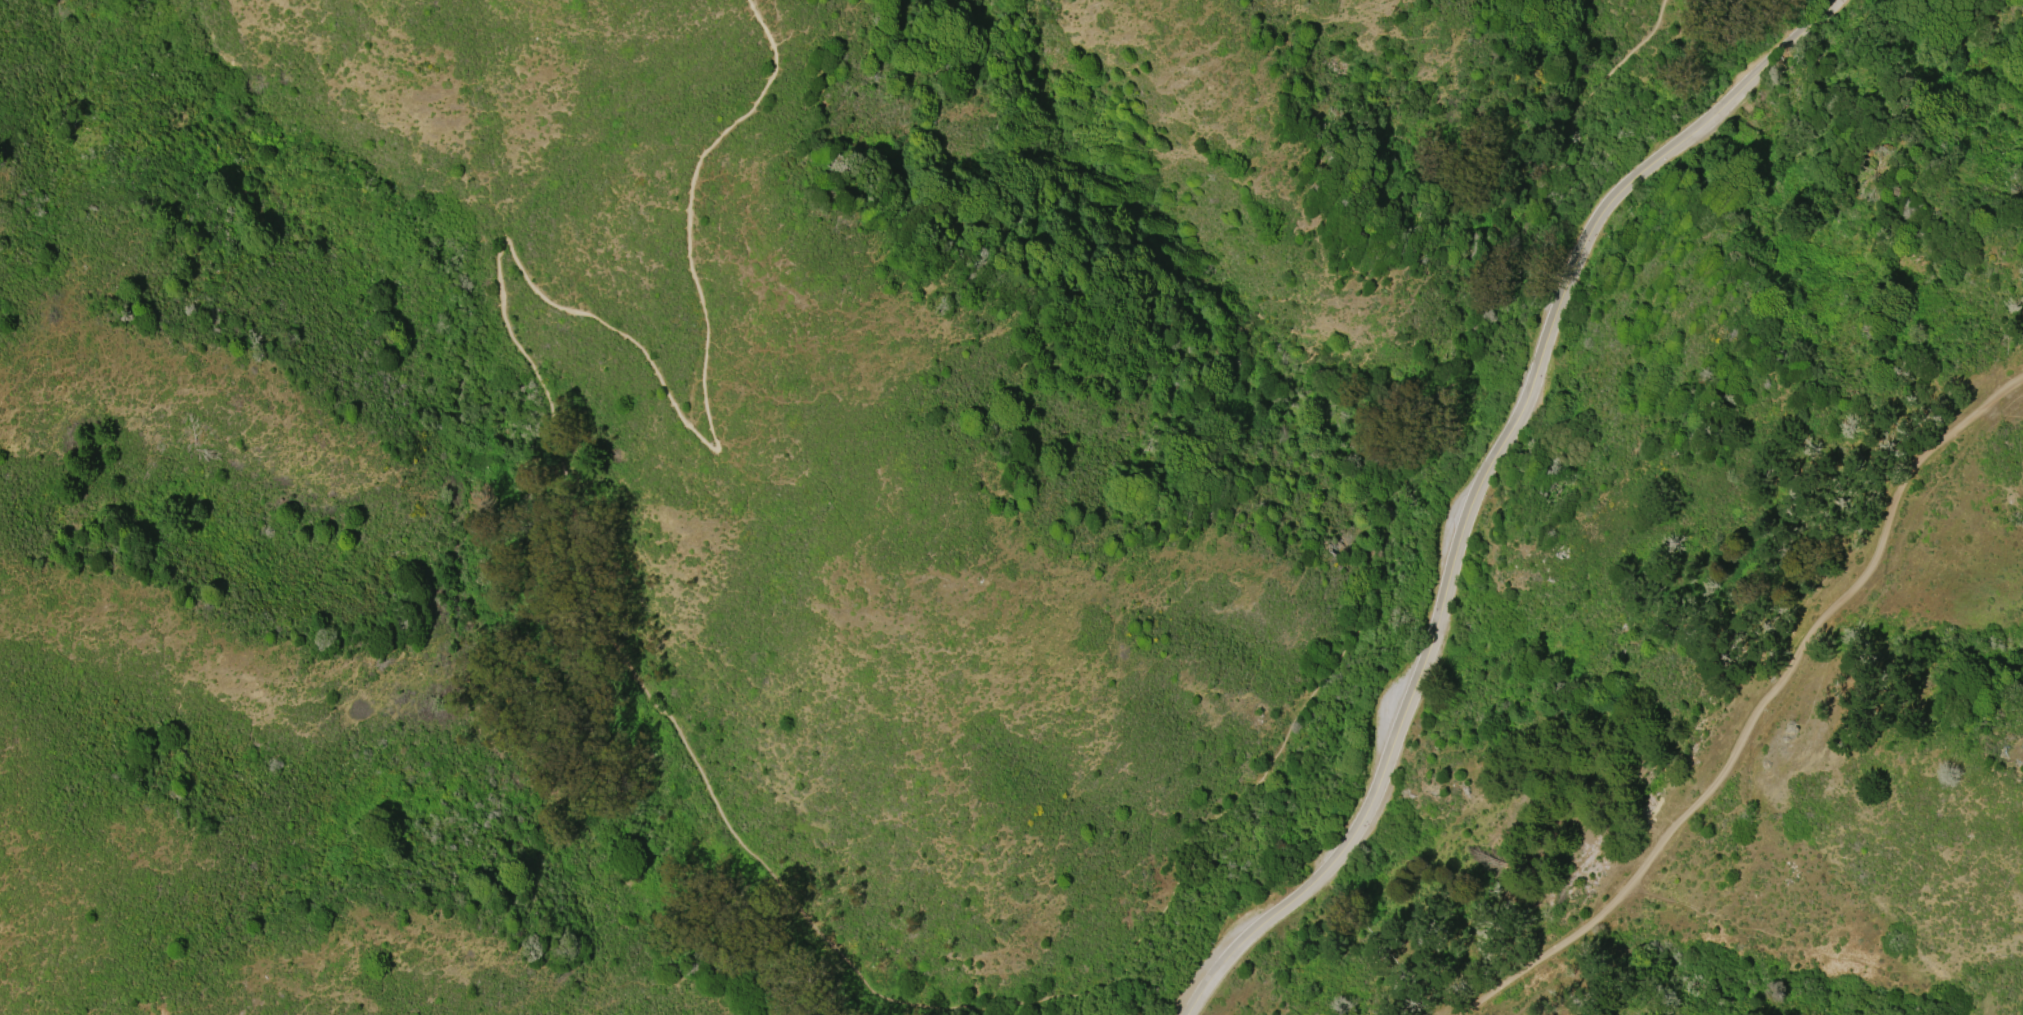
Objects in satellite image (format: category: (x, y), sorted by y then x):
road: (553, 408)
road: (1382, 485)
road: (1481, 486)
road: (1757, 710)

